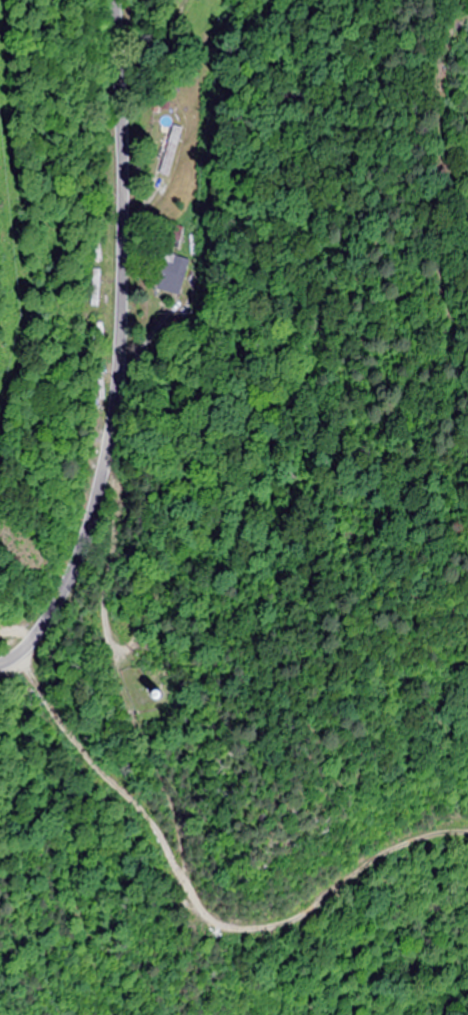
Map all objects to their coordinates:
building: (171, 152)
building: (173, 267)
road: (140, 354)
road: (197, 896)

